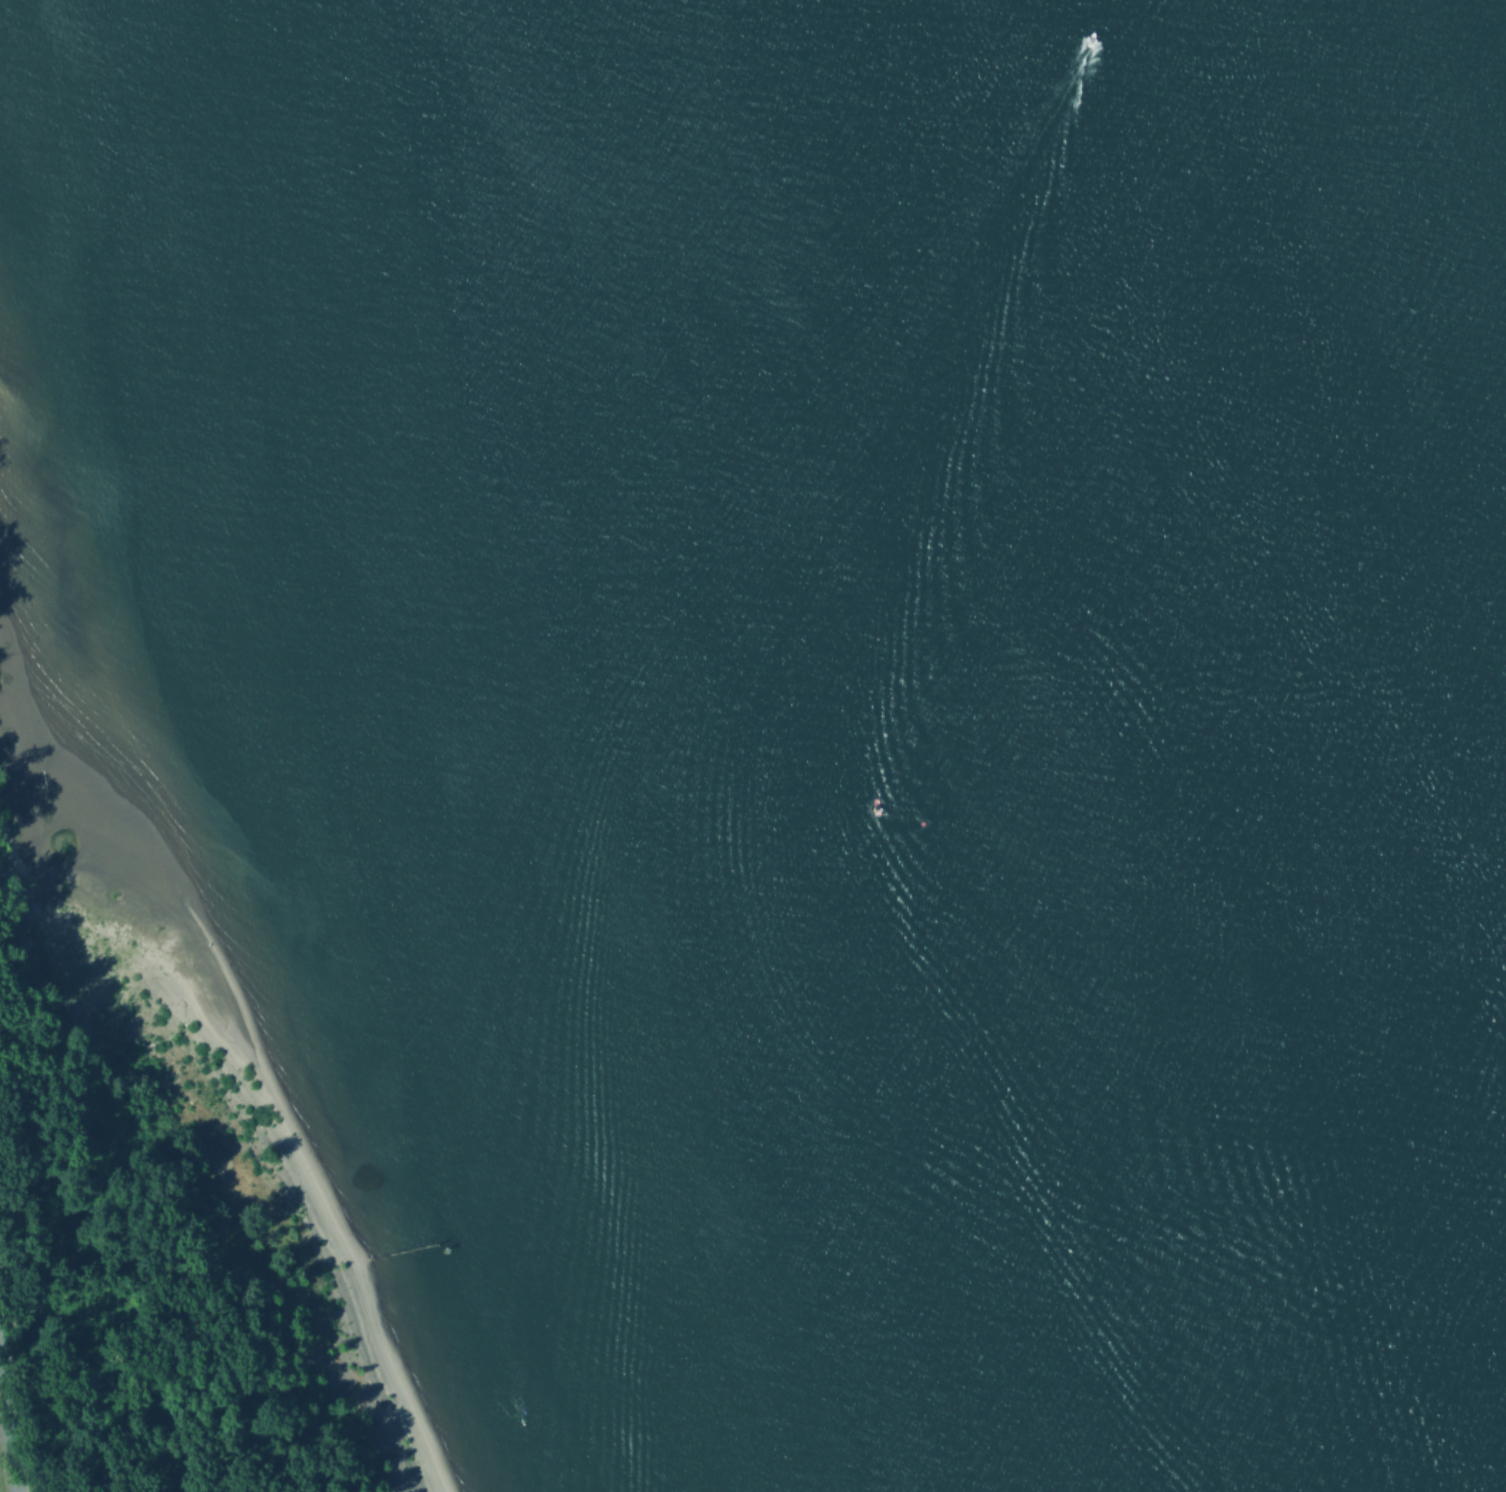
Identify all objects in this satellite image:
river: (1207, 746)
road: (8, 1433)

